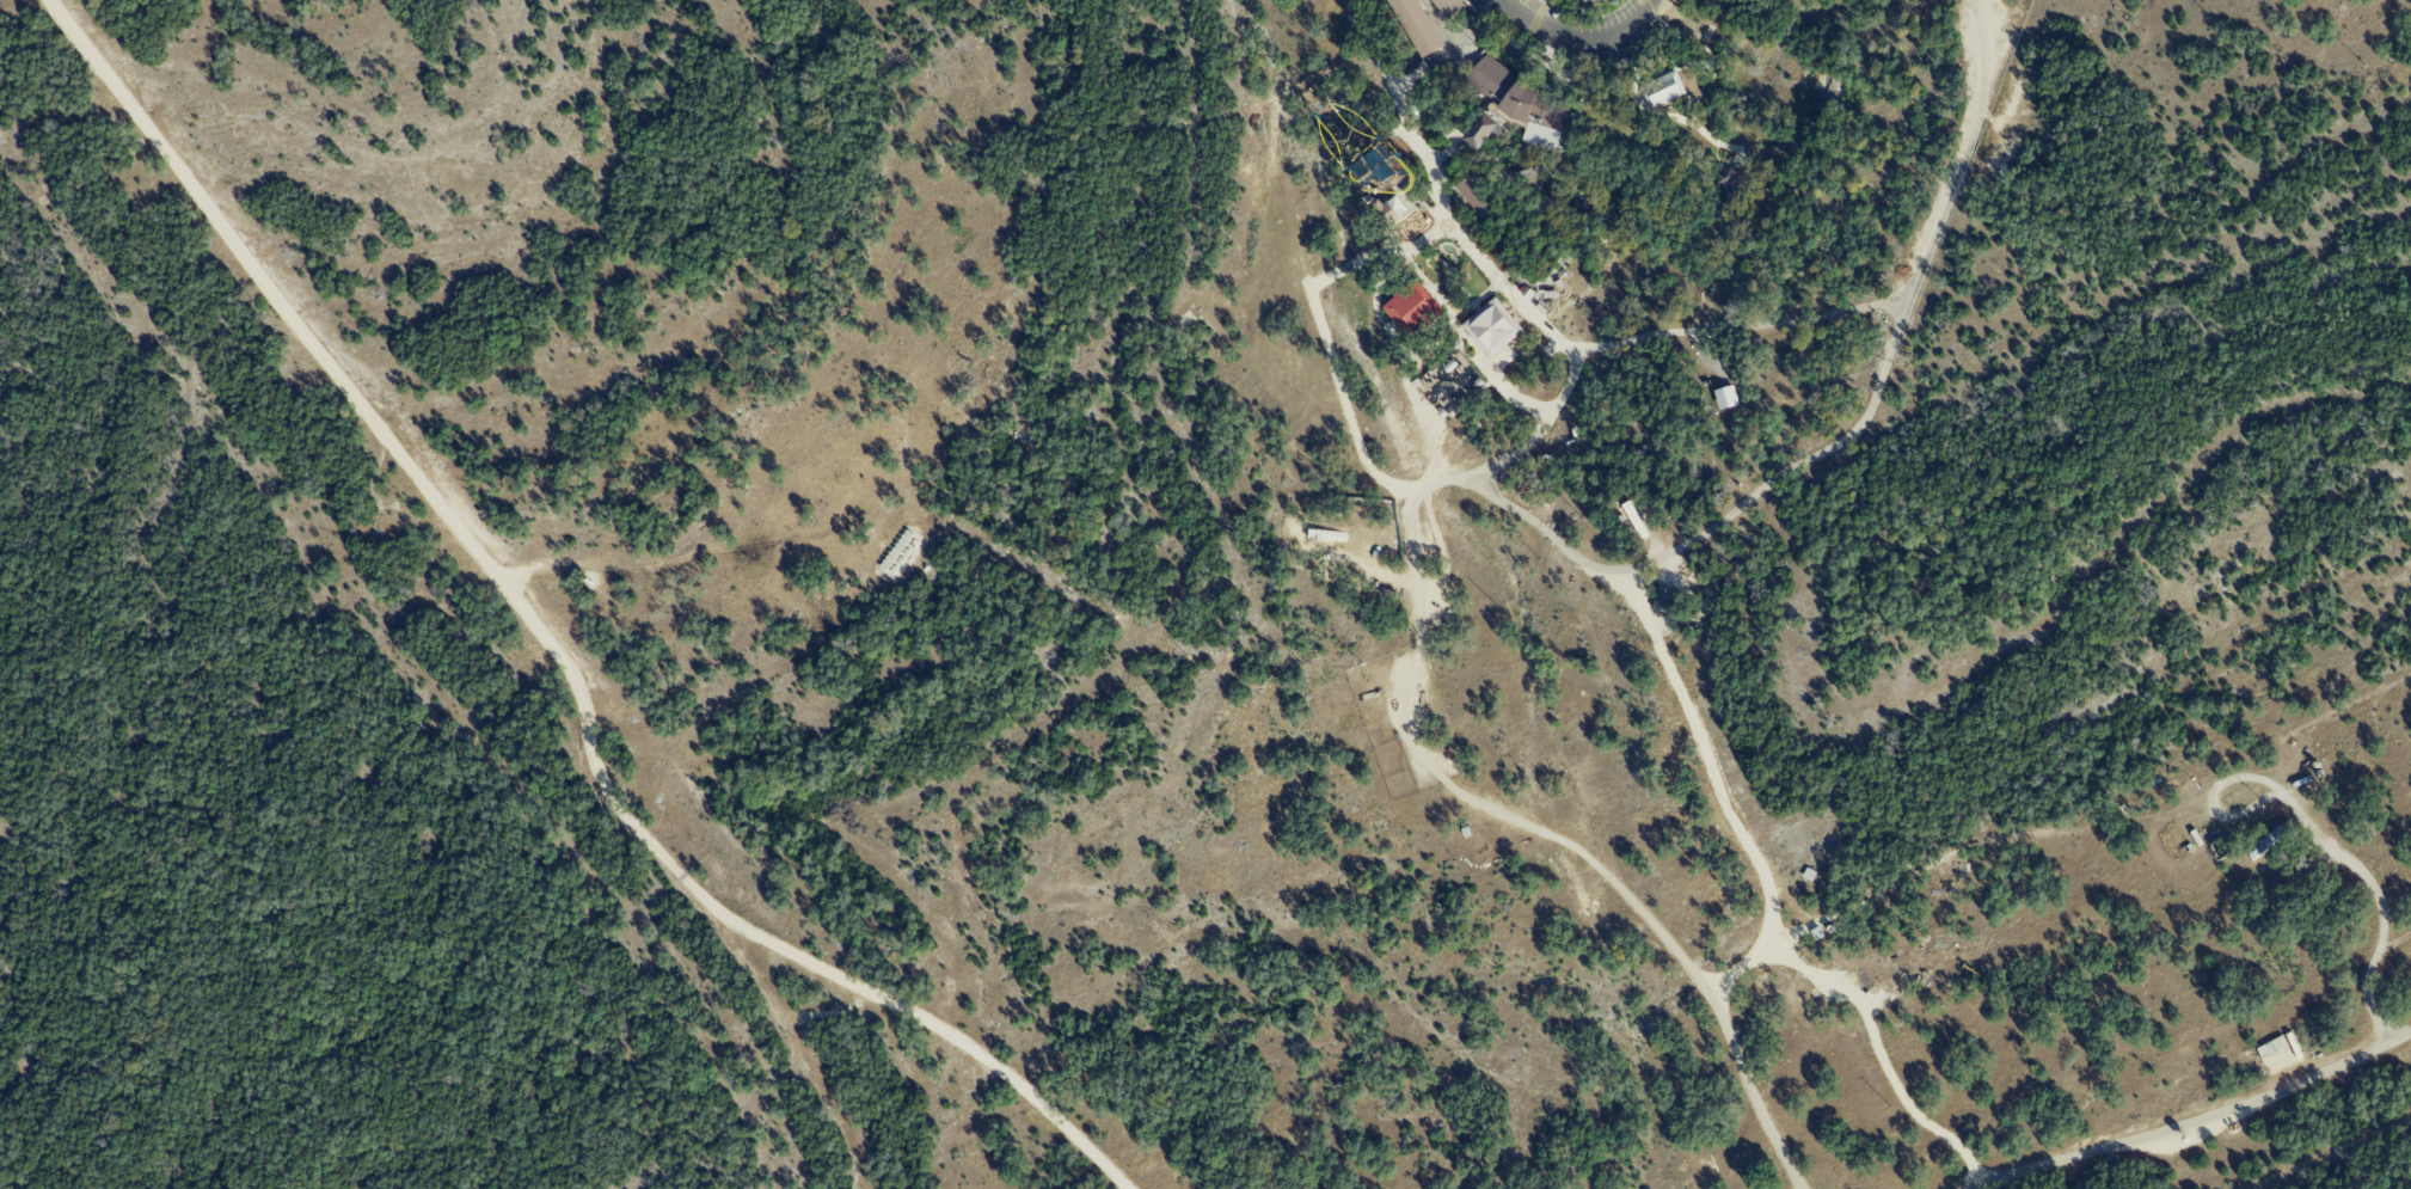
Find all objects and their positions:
building: (1446, 7)
building: (1413, 25)
parking lot: (1585, 29)
road: (1581, 39)
road: (1544, 60)
building: (1661, 91)
road: (1637, 97)
building: (1514, 108)
road: (1686, 158)
road: (1634, 167)
building: (1724, 178)
building: (1724, 191)
building: (1476, 195)
building: (1394, 207)
road: (1575, 247)
building: (1411, 307)
road: (1534, 315)
building: (1491, 326)
road: (1737, 331)
building: (1449, 382)
building: (1724, 397)
road: (1460, 476)
building: (1662, 599)
road: (552, 644)
road: (1717, 787)
road: (2324, 838)
building: (2270, 840)
road: (2188, 1120)

